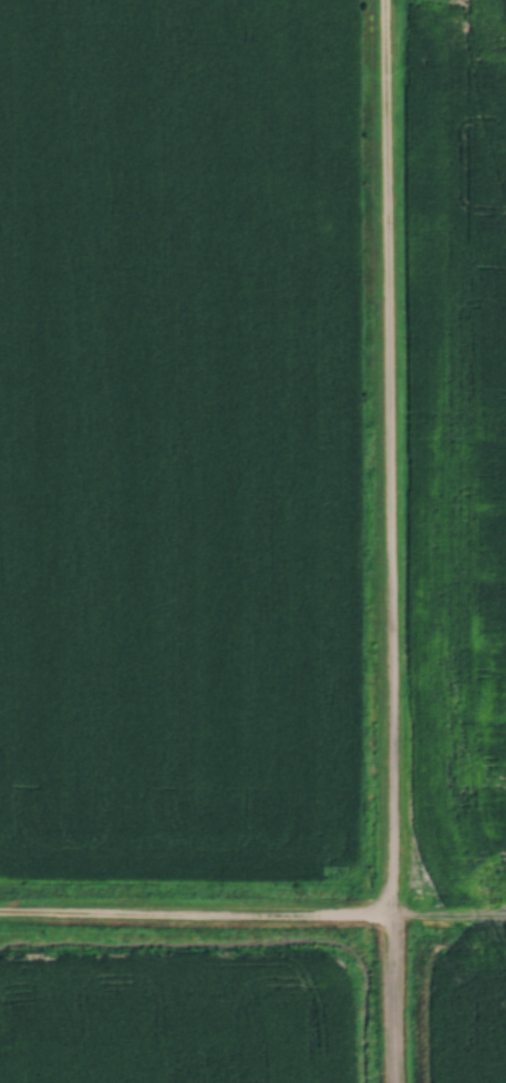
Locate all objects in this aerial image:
road: (390, 541)
road: (196, 916)
road: (450, 920)

